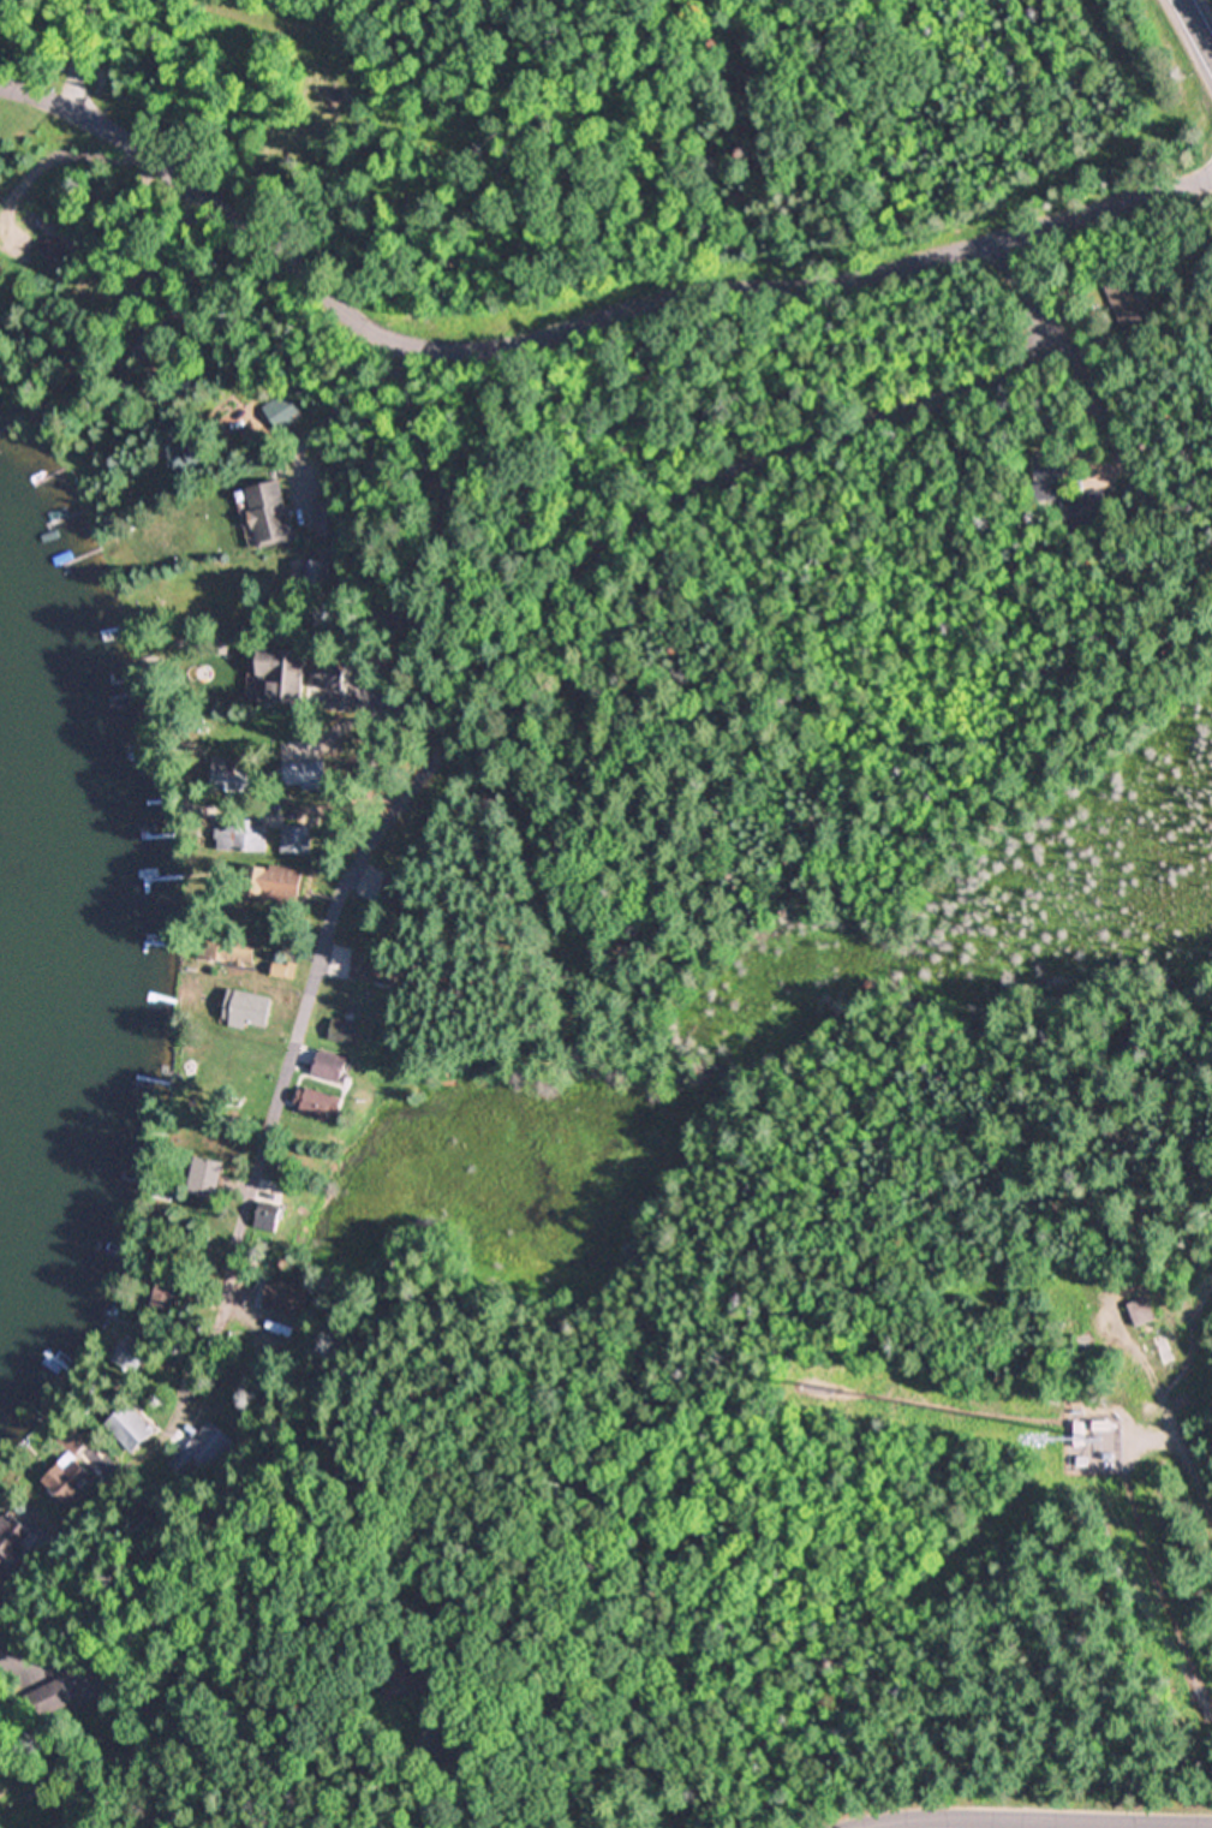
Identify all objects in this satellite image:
road: (1199, 22)
building: (237, 37)
road: (79, 54)
building: (100, 79)
road: (362, 111)
road: (147, 226)
building: (59, 242)
building: (1126, 300)
road: (573, 329)
building: (150, 345)
building: (192, 380)
road: (270, 399)
building: (285, 412)
building: (190, 452)
building: (1053, 476)
building: (1088, 510)
building: (274, 514)
building: (334, 517)
building: (314, 572)
road: (592, 574)
building: (324, 617)
building: (181, 649)
building: (287, 671)
building: (335, 674)
building: (232, 775)
building: (310, 775)
building: (243, 835)
building: (297, 840)
building: (276, 882)
building: (395, 891)
building: (228, 947)
building: (377, 967)
building: (286, 971)
building: (247, 1010)
building: (344, 1034)
building: (329, 1066)
building: (387, 1066)
building: (320, 1104)
road: (262, 1173)
building: (208, 1178)
building: (271, 1216)
building: (267, 1286)
building: (168, 1291)
building: (1144, 1311)
building: (1166, 1350)
building: (133, 1358)
building: (130, 1417)
building: (256, 1435)
building: (205, 1452)
road: (130, 1469)
building: (73, 1471)
building: (13, 1543)
building: (426, 1674)
building: (92, 1685)
building: (56, 1698)
building: (7, 1735)
building: (459, 1747)
road: (1026, 1816)

